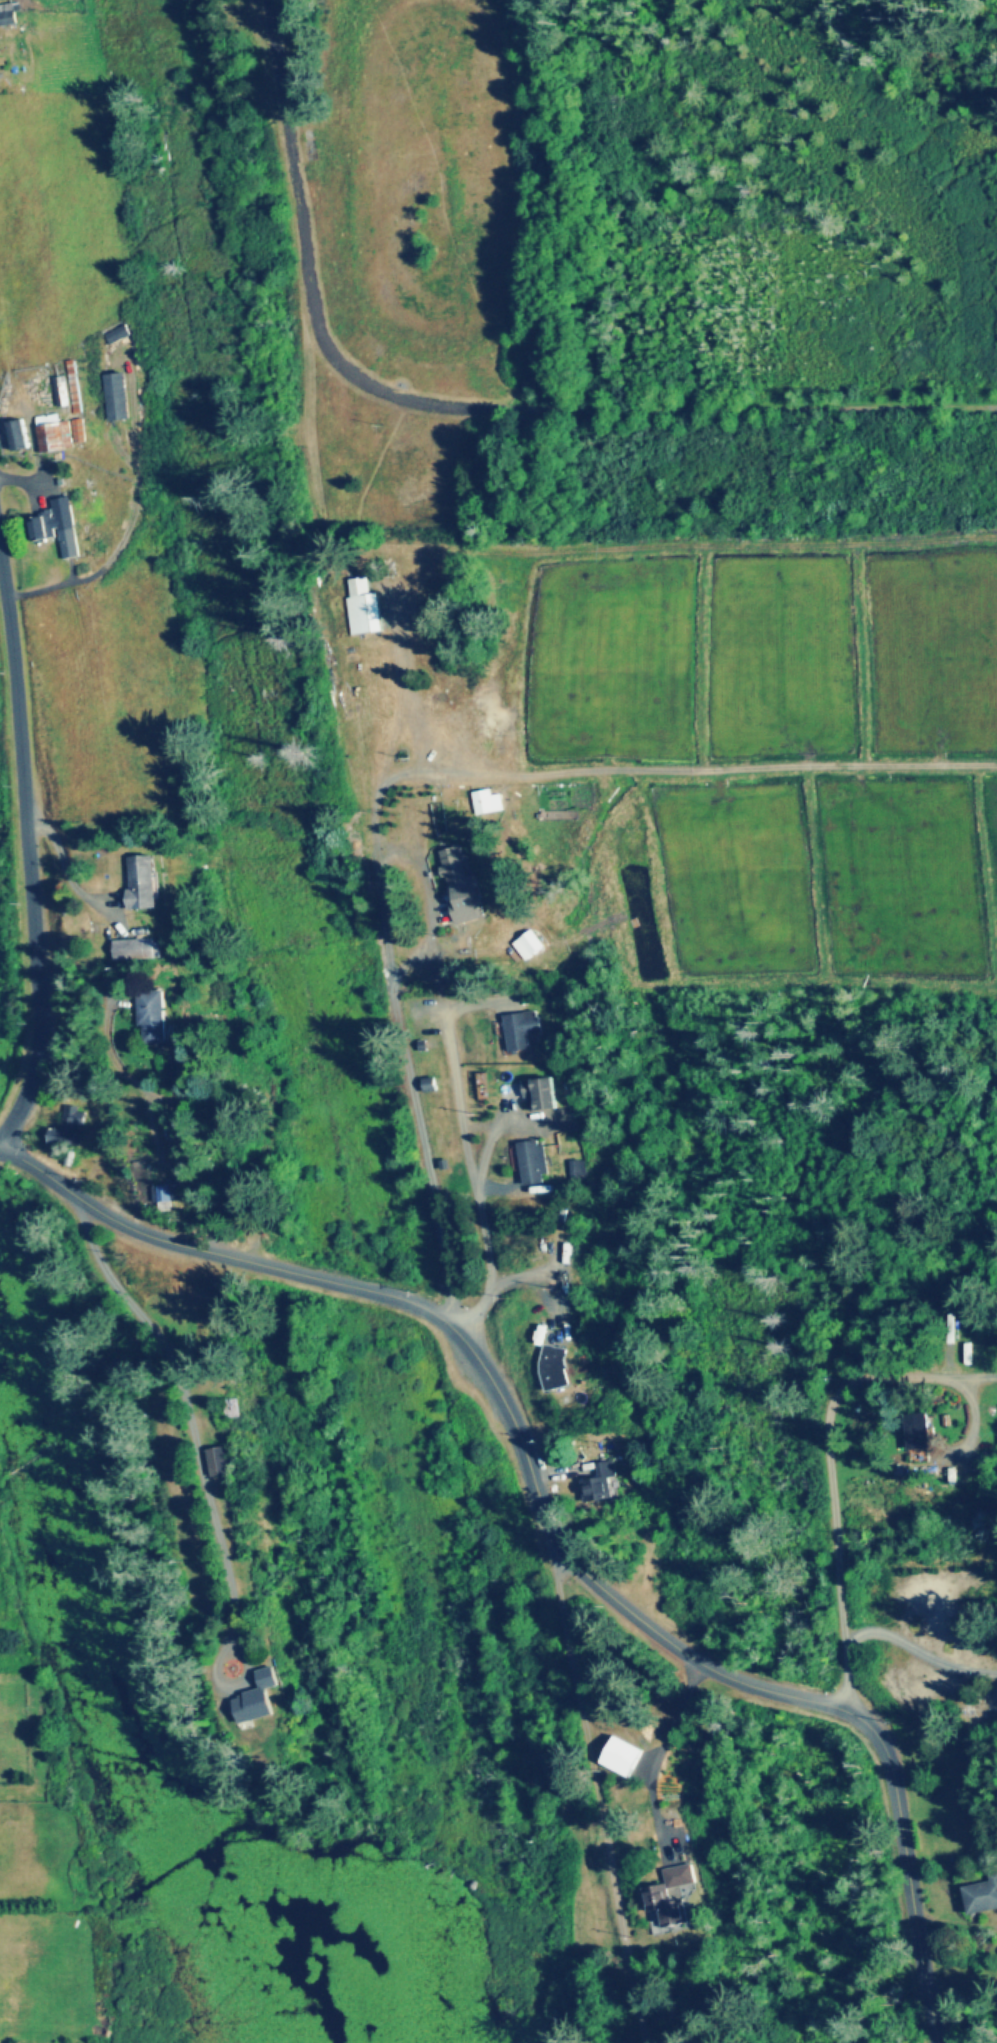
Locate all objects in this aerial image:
building: (6, 15)
building: (4, 80)
road: (293, 153)
building: (117, 334)
building: (72, 385)
building: (58, 389)
building: (114, 395)
road: (632, 410)
building: (76, 429)
building: (14, 432)
building: (51, 434)
building: (54, 524)
road: (28, 861)
building: (455, 868)
building: (137, 881)
building: (133, 948)
building: (148, 1015)
building: (520, 1029)
building: (539, 1093)
road: (465, 1122)
building: (69, 1126)
road: (2, 1137)
building: (532, 1161)
building: (577, 1170)
railway: (435, 1177)
building: (167, 1191)
building: (552, 1366)
road: (972, 1381)
building: (228, 1408)
building: (919, 1438)
road: (831, 1465)
building: (602, 1481)
road: (550, 1524)
road: (921, 1654)
building: (266, 1700)
building: (620, 1756)
road: (597, 1785)
building: (654, 1894)
building: (981, 1896)

